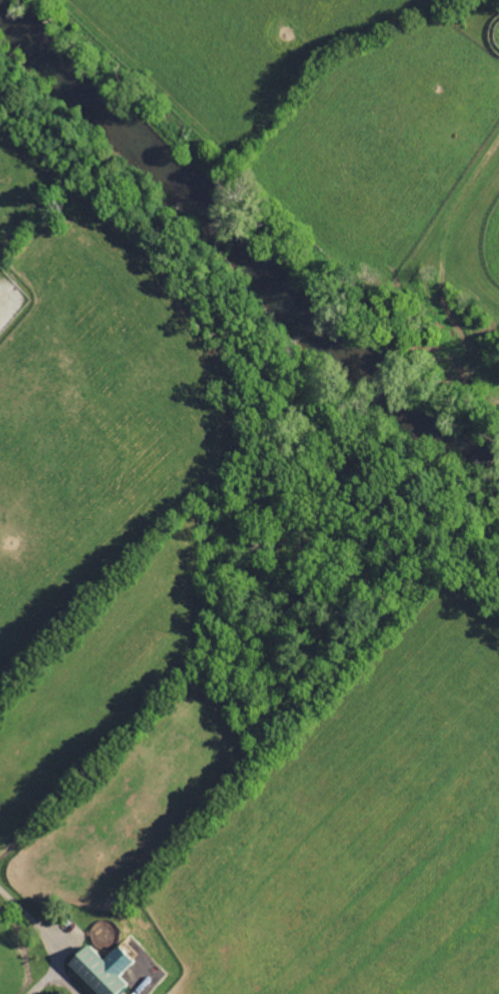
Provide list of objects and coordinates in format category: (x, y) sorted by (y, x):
road: (49, 936)
building: (99, 968)
road: (44, 979)

